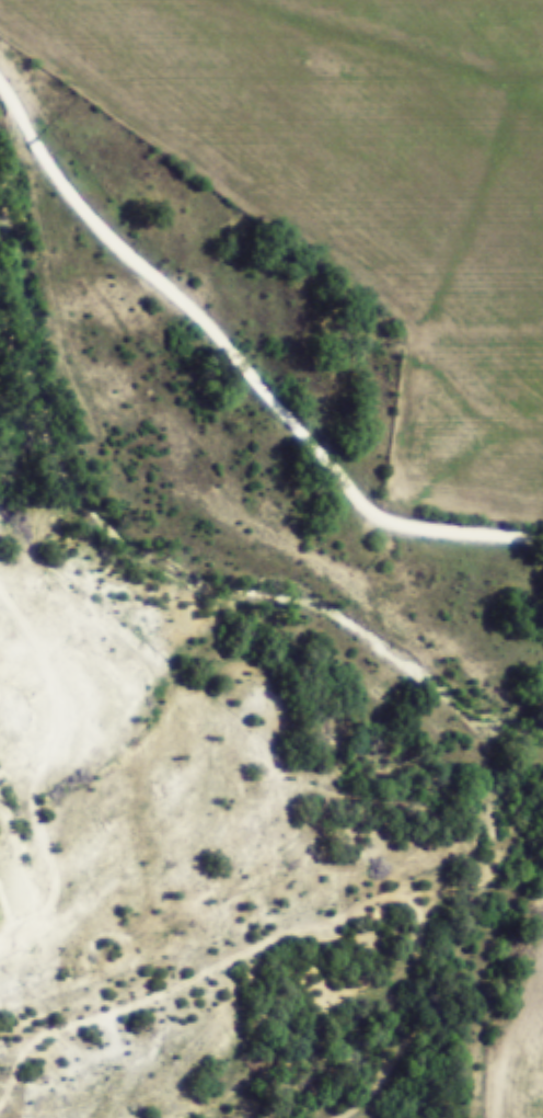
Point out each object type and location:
road: (242, 352)

